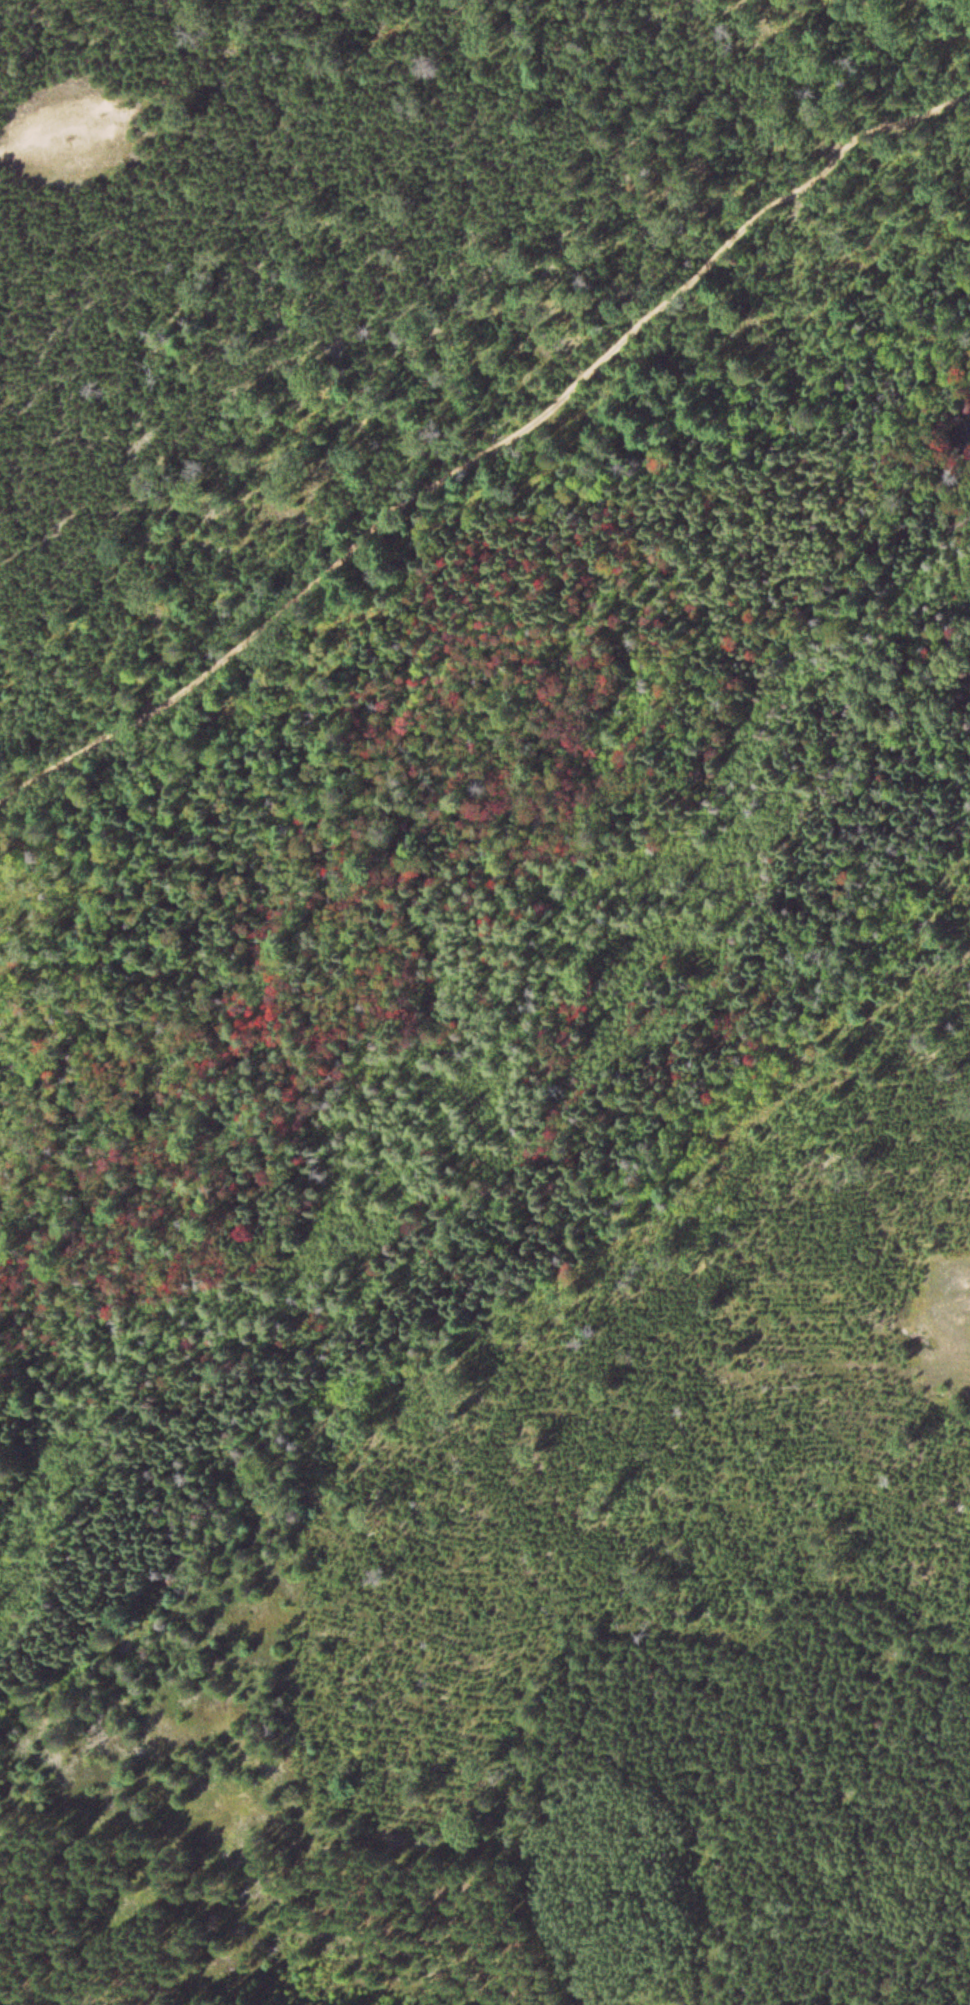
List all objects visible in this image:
road: (18, 144)
road: (493, 451)

